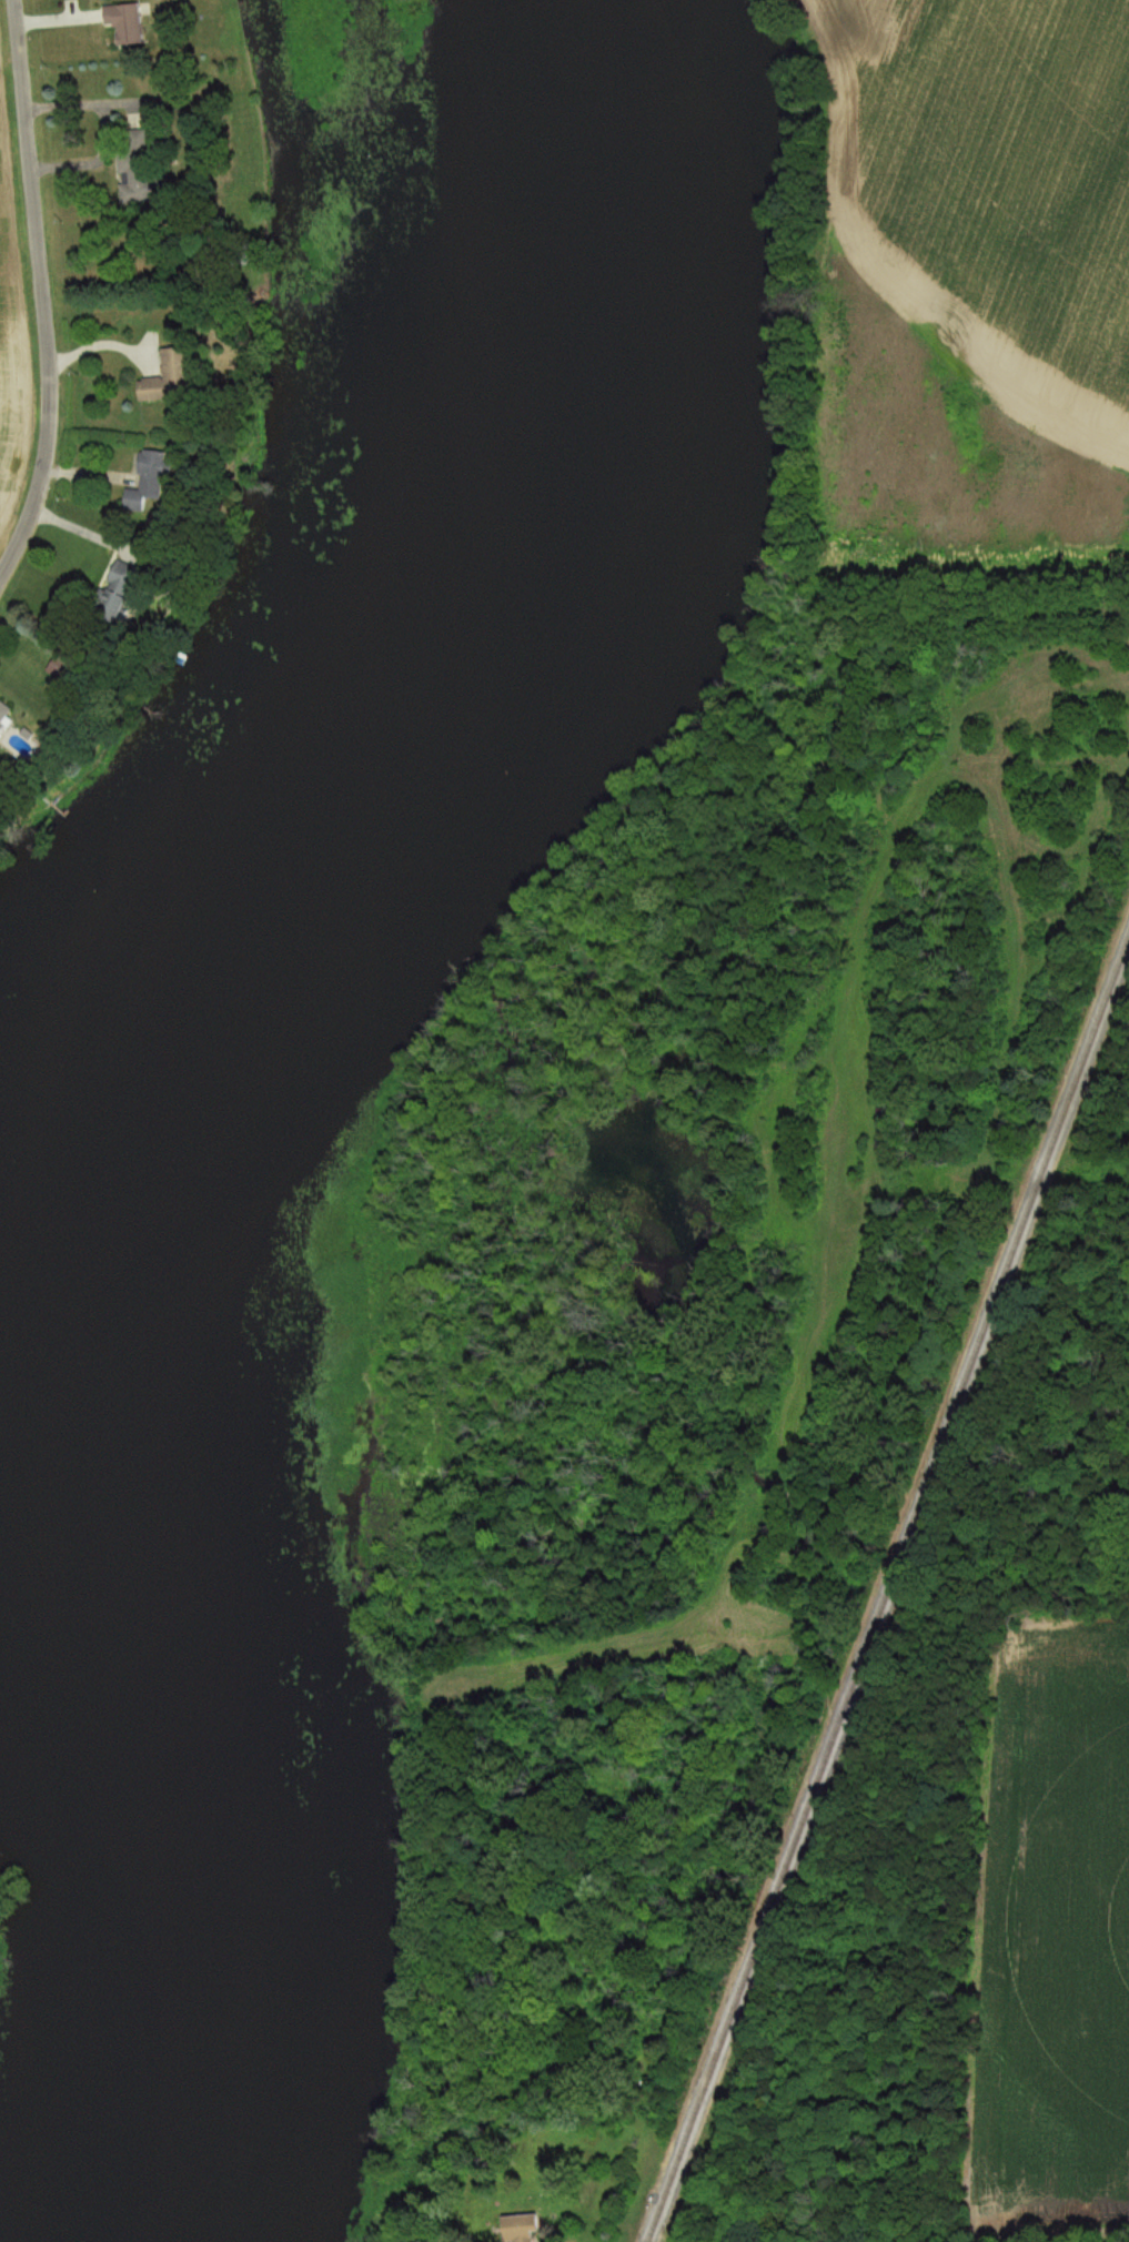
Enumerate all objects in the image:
building: (120, 23)
road: (100, 128)
building: (129, 164)
river: (554, 286)
road: (44, 293)
road: (102, 344)
crop: (7, 356)
building: (160, 383)
building: (143, 482)
building: (110, 593)
building: (2, 714)
river: (149, 1357)
railway: (887, 1585)
building: (513, 2229)
road: (1049, 2236)

